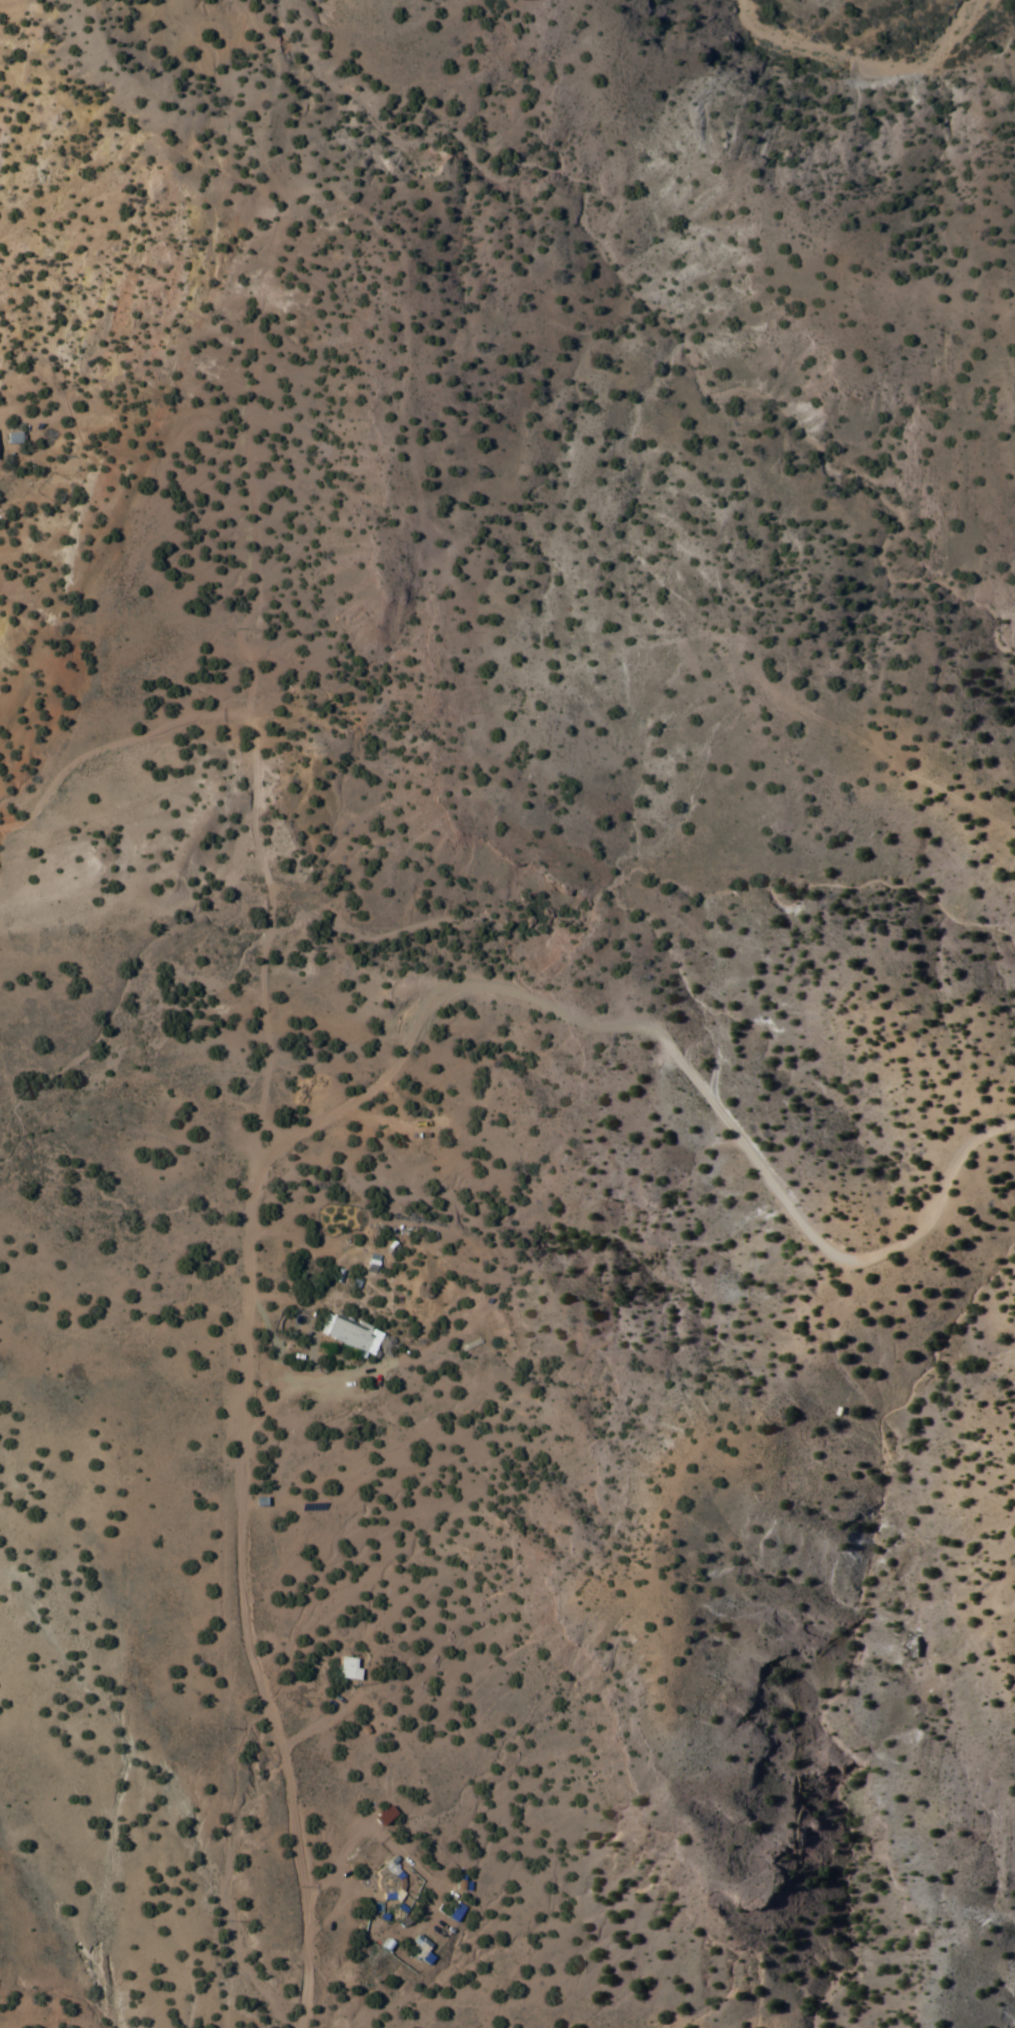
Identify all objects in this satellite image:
road: (62, 33)
building: (11, 438)
road: (262, 1012)
road: (660, 1056)
building: (348, 1334)
building: (346, 1669)
building: (396, 1880)
building: (454, 1913)
building: (420, 1953)

